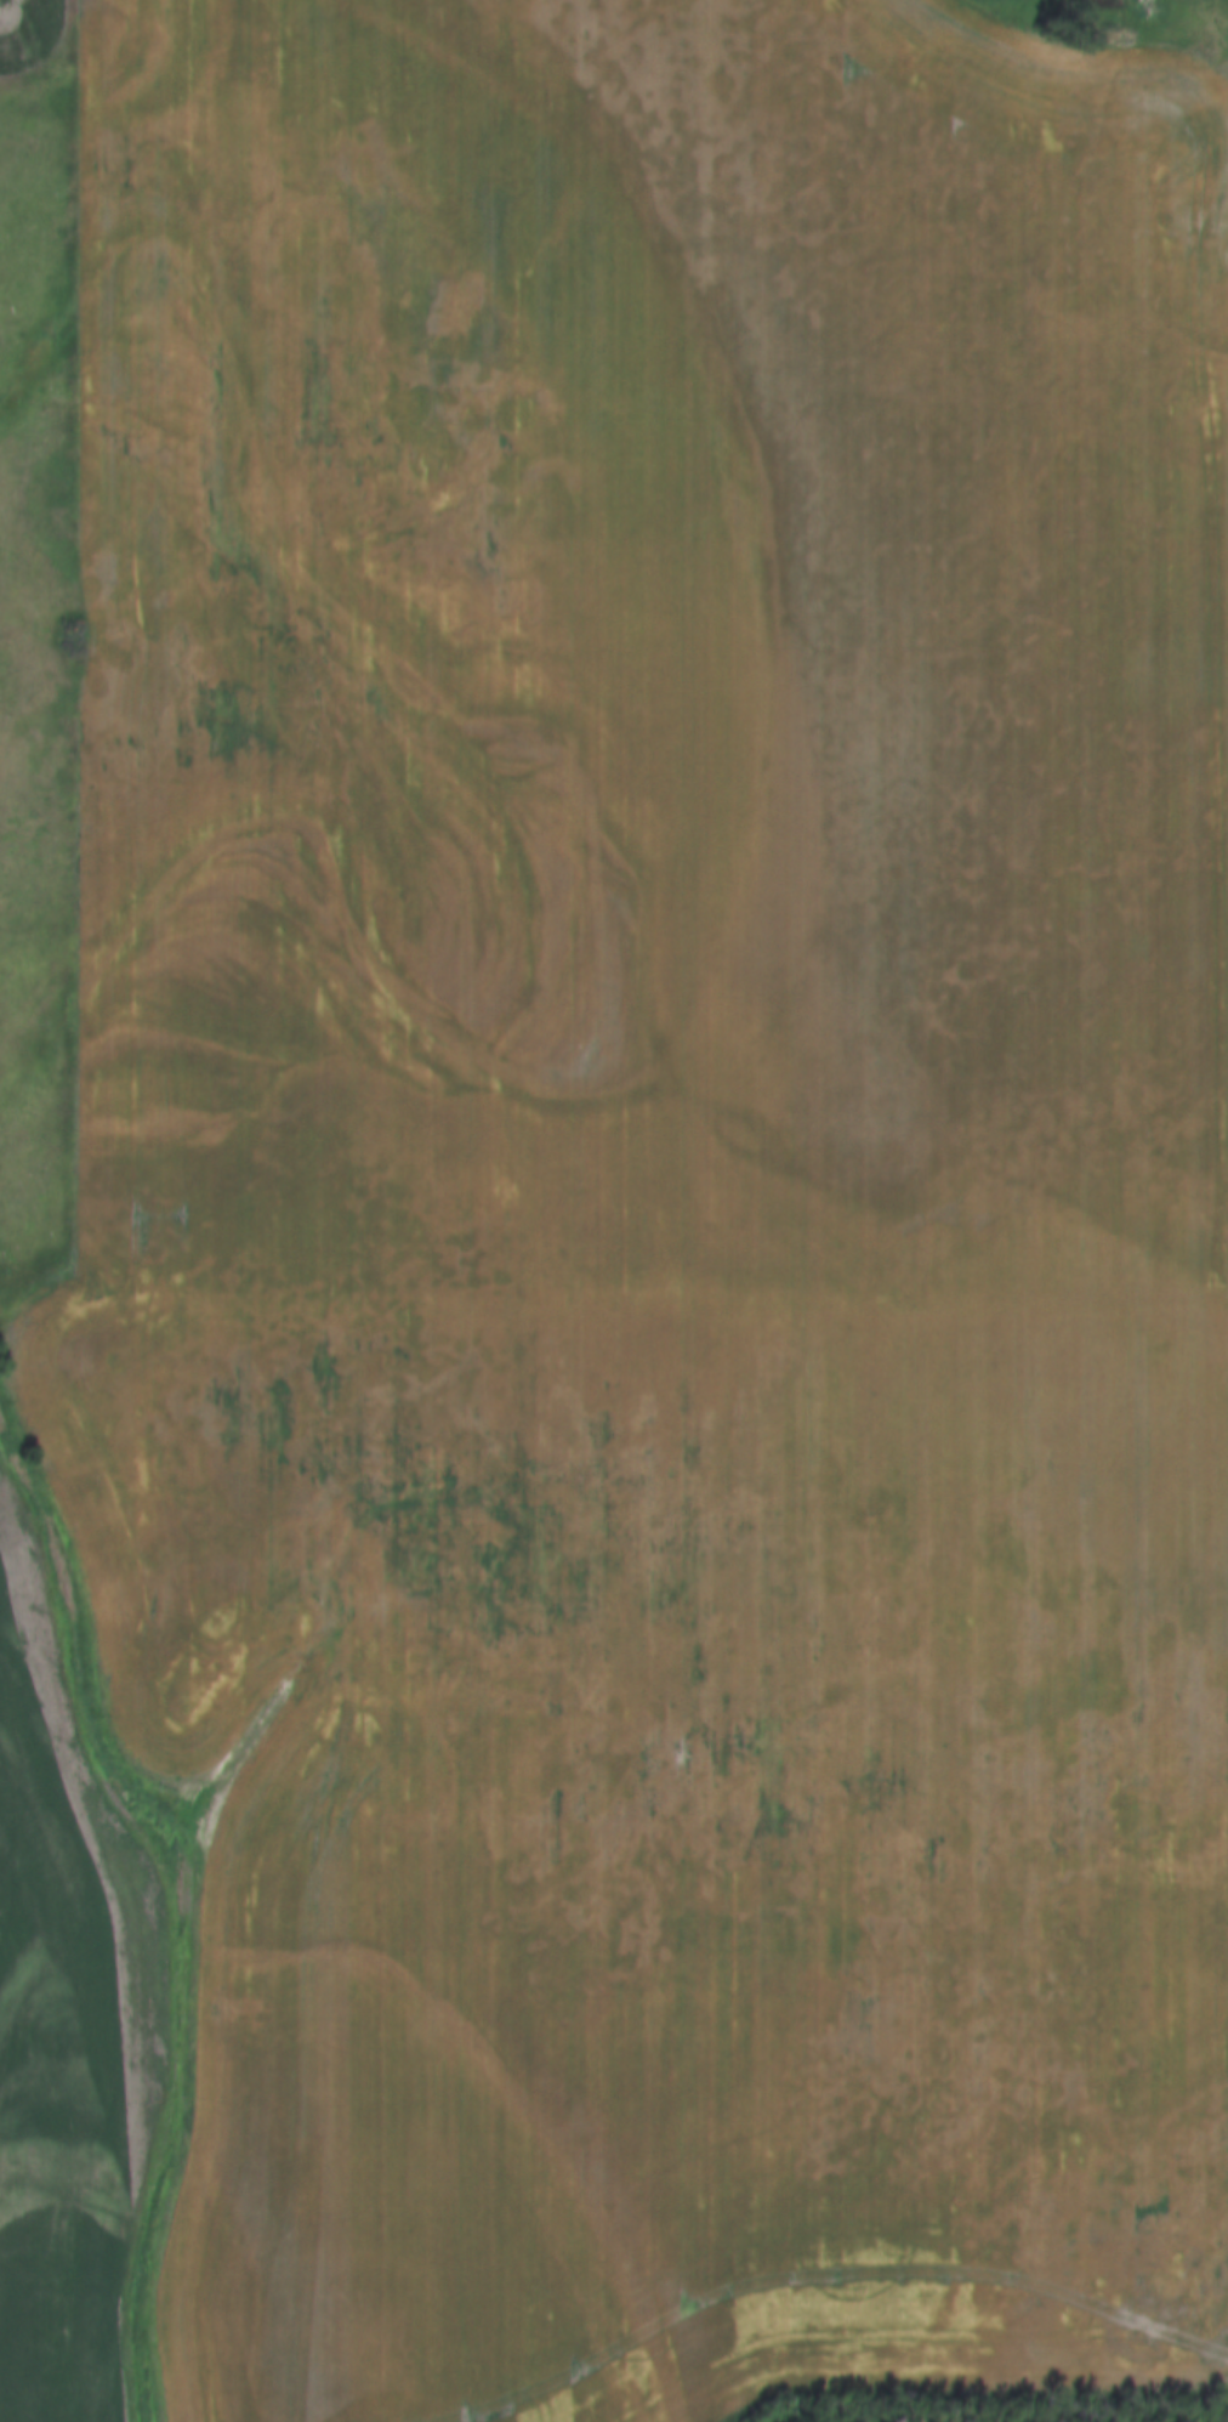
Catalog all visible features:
road: (55, 736)

